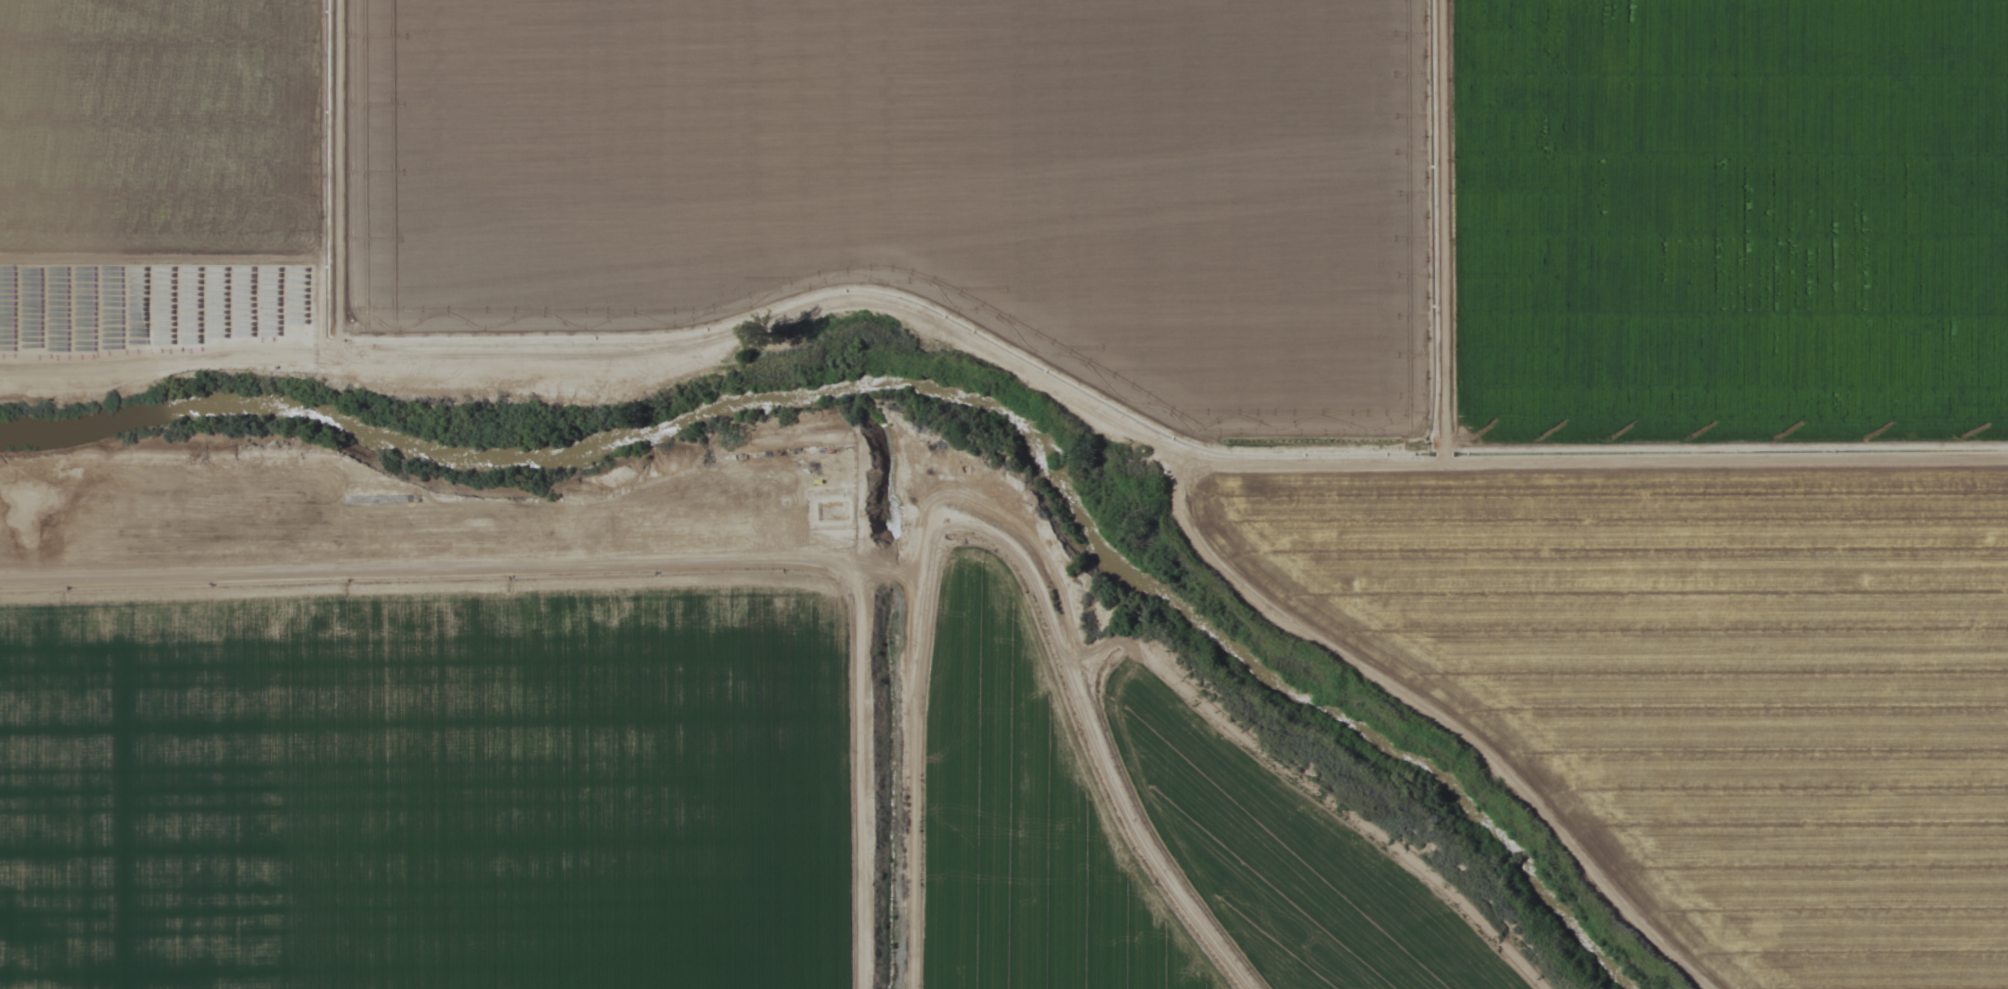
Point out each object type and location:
river: (924, 390)
road: (441, 579)
road: (862, 792)

